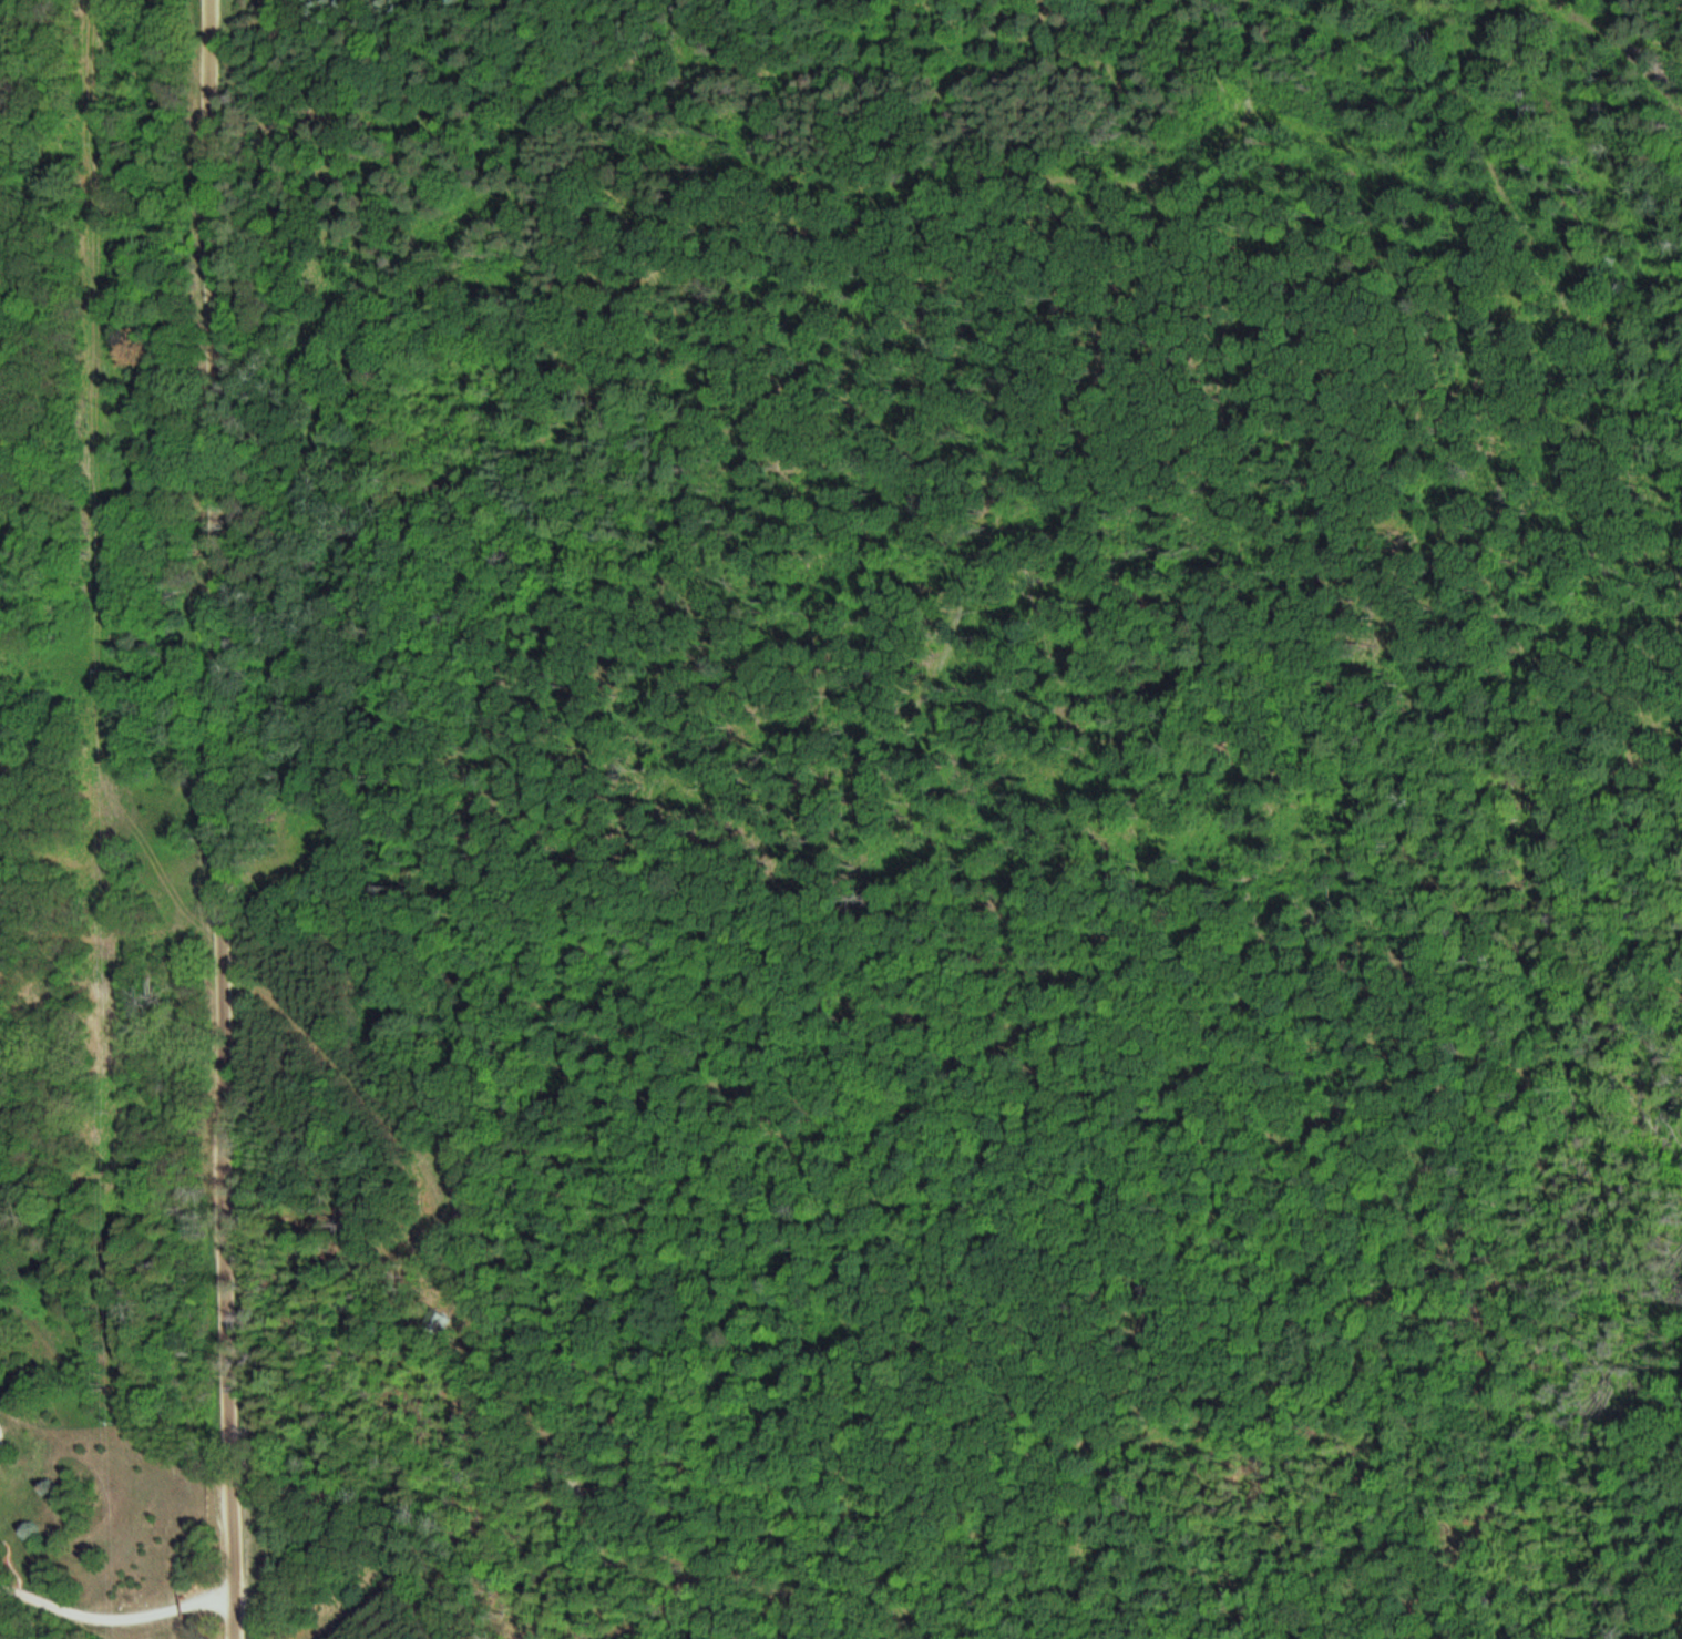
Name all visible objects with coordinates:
road: (110, 508)
road: (225, 819)
road: (380, 1202)

